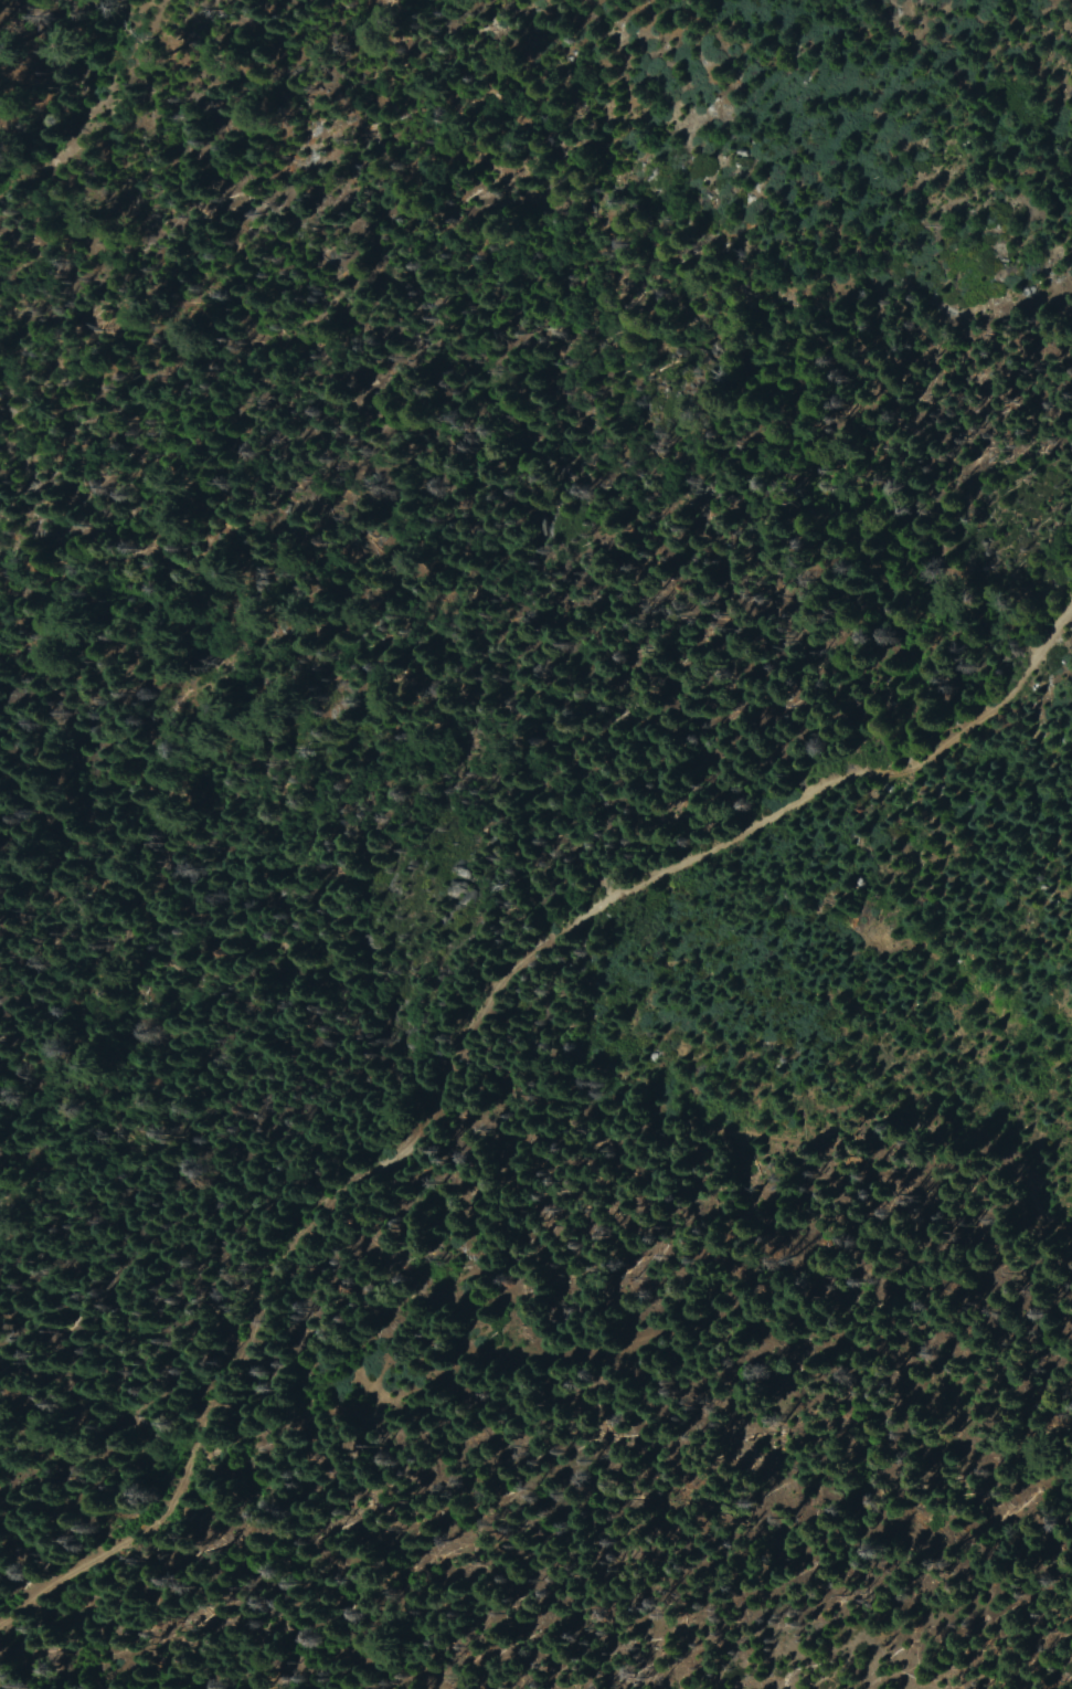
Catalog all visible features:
road: (93, 106)
road: (463, 1043)
road: (533, 1280)

